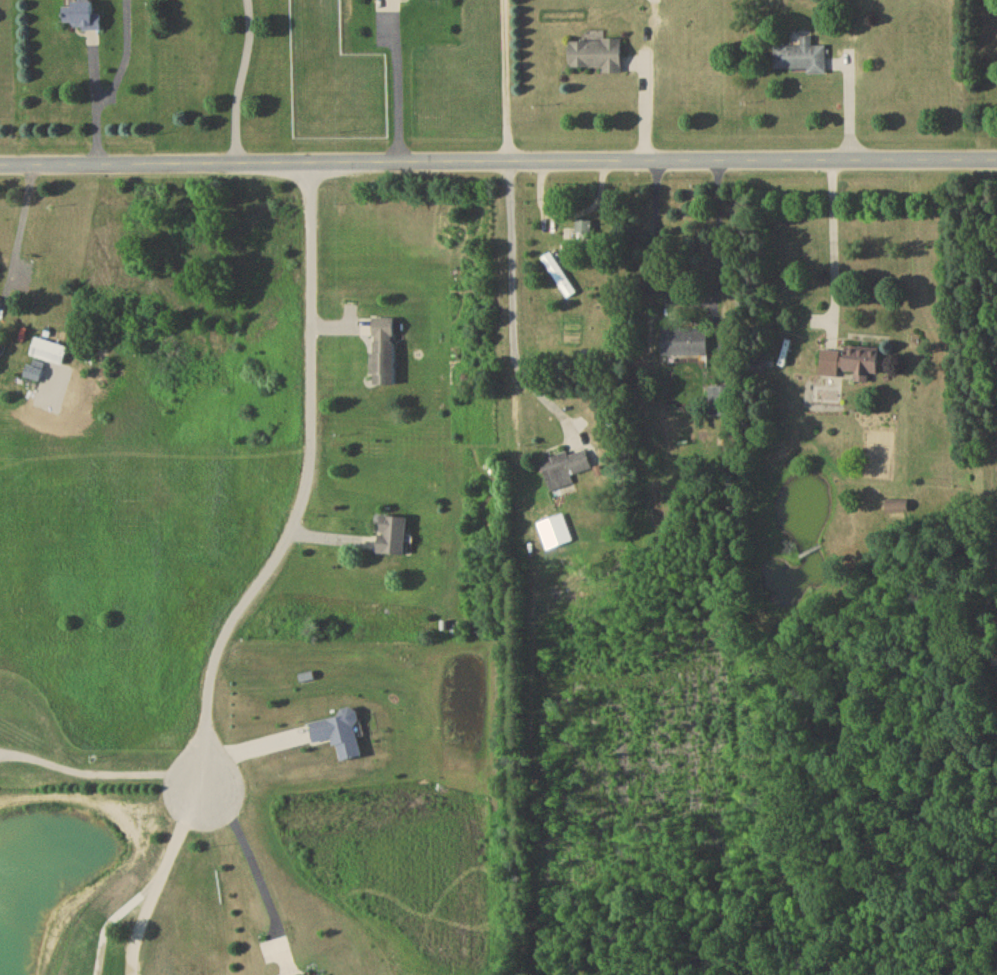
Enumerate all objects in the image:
building: (82, 18)
building: (595, 58)
building: (801, 60)
road: (241, 77)
road: (506, 78)
road: (394, 83)
road: (96, 97)
road: (498, 157)
road: (22, 215)
building: (583, 231)
road: (834, 249)
building: (559, 278)
road: (512, 301)
road: (692, 302)
building: (684, 345)
building: (48, 354)
building: (382, 355)
building: (849, 365)
building: (34, 374)
building: (721, 404)
building: (565, 469)
road: (306, 483)
building: (896, 508)
building: (392, 538)
road: (254, 736)
road: (108, 774)
road: (247, 855)
road: (160, 878)
road: (114, 907)

